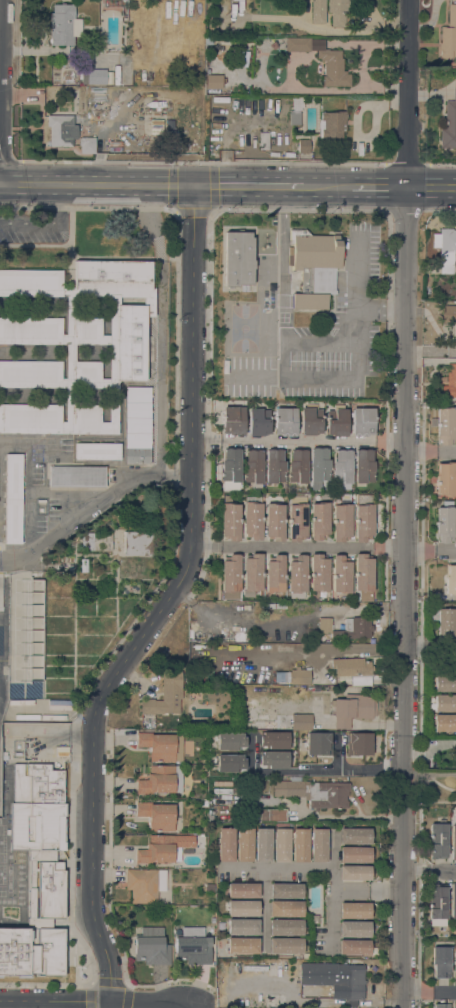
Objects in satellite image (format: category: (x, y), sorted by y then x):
building: (318, 11)
building: (338, 12)
road: (380, 23)
building: (63, 25)
road: (0, 31)
building: (448, 36)
building: (209, 41)
building: (297, 45)
building: (333, 68)
building: (96, 76)
building: (212, 81)
building: (296, 111)
building: (332, 124)
building: (449, 124)
building: (61, 130)
building: (264, 139)
building: (87, 145)
building: (303, 146)
street lamp: (50, 160)
road: (9, 161)
street lamp: (127, 161)
street lamp: (213, 161)
street lamp: (286, 161)
road: (202, 162)
street lamp: (380, 163)
road: (405, 164)
road: (440, 164)
road: (97, 185)
traffic signals: (194, 186)
road: (248, 186)
road: (327, 186)
road: (379, 187)
road: (431, 187)
road: (192, 211)
road: (48, 224)
building: (446, 249)
building: (238, 259)
road: (282, 262)
building: (314, 267)
road: (353, 299)
building: (449, 314)
park: (244, 328)
road: (160, 329)
building: (76, 343)
road: (432, 351)
road: (295, 377)
building: (449, 382)
road: (175, 398)
building: (311, 419)
building: (233, 420)
building: (285, 421)
building: (362, 421)
building: (259, 422)
building: (337, 422)
building: (138, 425)
building: (445, 425)
road: (300, 441)
building: (97, 451)
road: (431, 451)
building: (275, 466)
building: (298, 466)
building: (364, 466)
building: (254, 467)
building: (319, 467)
building: (231, 468)
building: (343, 468)
building: (77, 476)
building: (445, 479)
building: (13, 498)
road: (406, 503)
road: (92, 508)
building: (253, 517)
building: (319, 520)
building: (342, 520)
building: (363, 520)
building: (230, 521)
building: (275, 521)
building: (297, 522)
building: (444, 524)
building: (96, 541)
building: (138, 543)
road: (298, 547)
road: (431, 554)
building: (84, 565)
building: (363, 572)
building: (275, 573)
building: (252, 574)
building: (341, 574)
building: (297, 575)
building: (318, 575)
building: (230, 577)
building: (450, 580)
road: (162, 604)
building: (243, 609)
building: (446, 624)
building: (324, 625)
building: (354, 628)
road: (430, 647)
building: (337, 648)
building: (351, 666)
building: (282, 675)
building: (299, 676)
building: (270, 678)
building: (445, 683)
building: (165, 695)
building: (445, 702)
building: (352, 709)
building: (295, 721)
building: (445, 722)
building: (272, 740)
building: (229, 741)
building: (316, 743)
building: (357, 743)
building: (162, 747)
road: (430, 748)
building: (61, 752)
road: (251, 754)
road: (339, 754)
building: (272, 759)
building: (229, 762)
road: (327, 770)
building: (161, 779)
building: (314, 792)
building: (455, 797)
building: (272, 814)
building: (157, 815)
building: (355, 836)
building: (438, 840)
building: (453, 842)
building: (226, 844)
building: (244, 844)
building: (263, 844)
building: (282, 844)
building: (300, 845)
building: (318, 845)
building: (164, 848)
building: (355, 855)
road: (275, 869)
road: (429, 870)
building: (37, 871)
building: (354, 872)
building: (145, 884)
building: (210, 887)
road: (331, 889)
building: (243, 890)
building: (285, 890)
road: (367, 891)
building: (453, 900)
building: (437, 903)
road: (71, 904)
building: (242, 908)
building: (286, 908)
road: (263, 910)
building: (355, 910)
building: (315, 919)
building: (243, 926)
building: (286, 927)
building: (354, 929)
building: (242, 945)
building: (286, 945)
building: (151, 946)
building: (193, 946)
building: (354, 947)
building: (440, 961)
building: (454, 961)
building: (336, 979)
road: (429, 994)
road: (289, 995)
road: (55, 1001)
road: (159, 1001)
road: (379, 1002)
road: (350, 1003)
road: (209, 1004)
building: (441, 1006)
building: (455, 1007)

